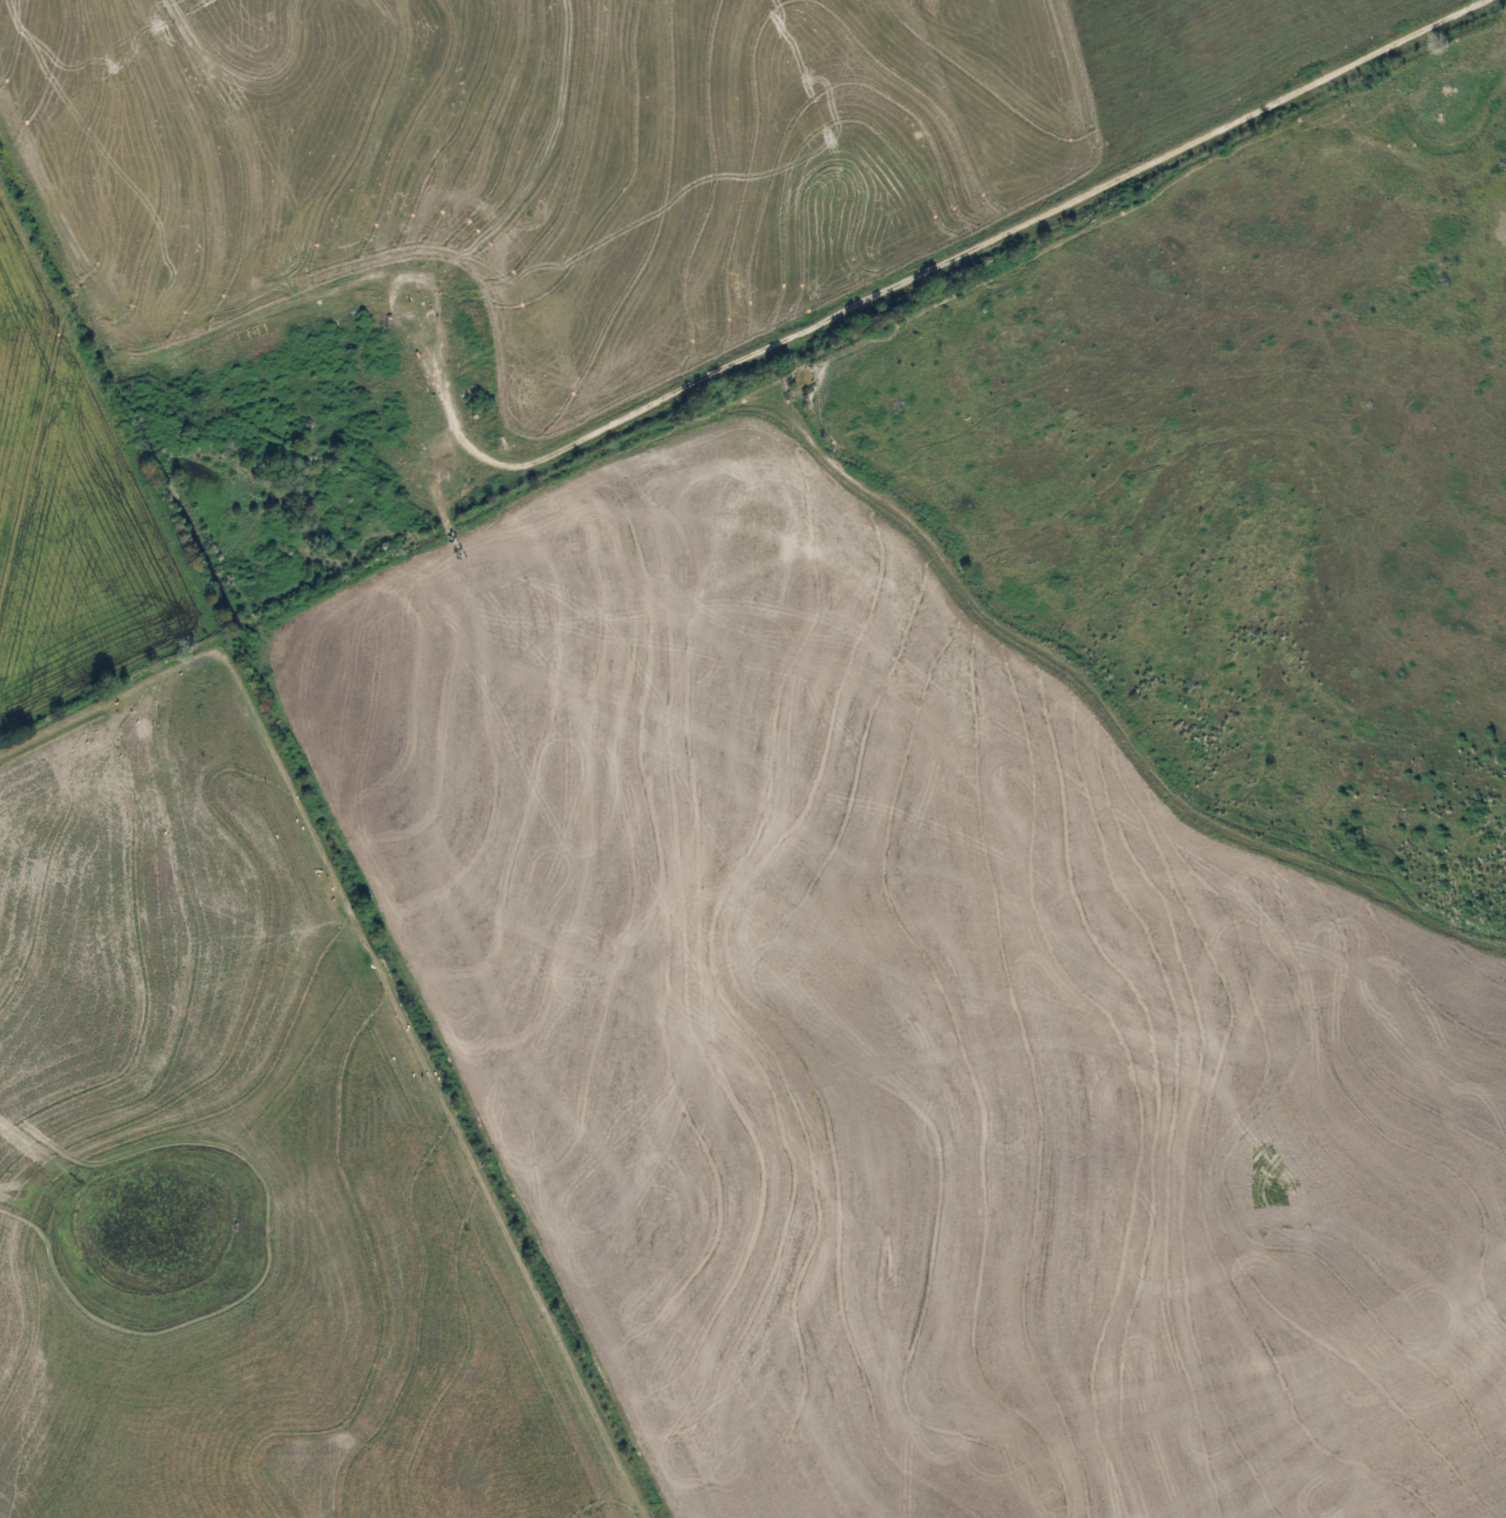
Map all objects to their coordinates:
road: (929, 271)

